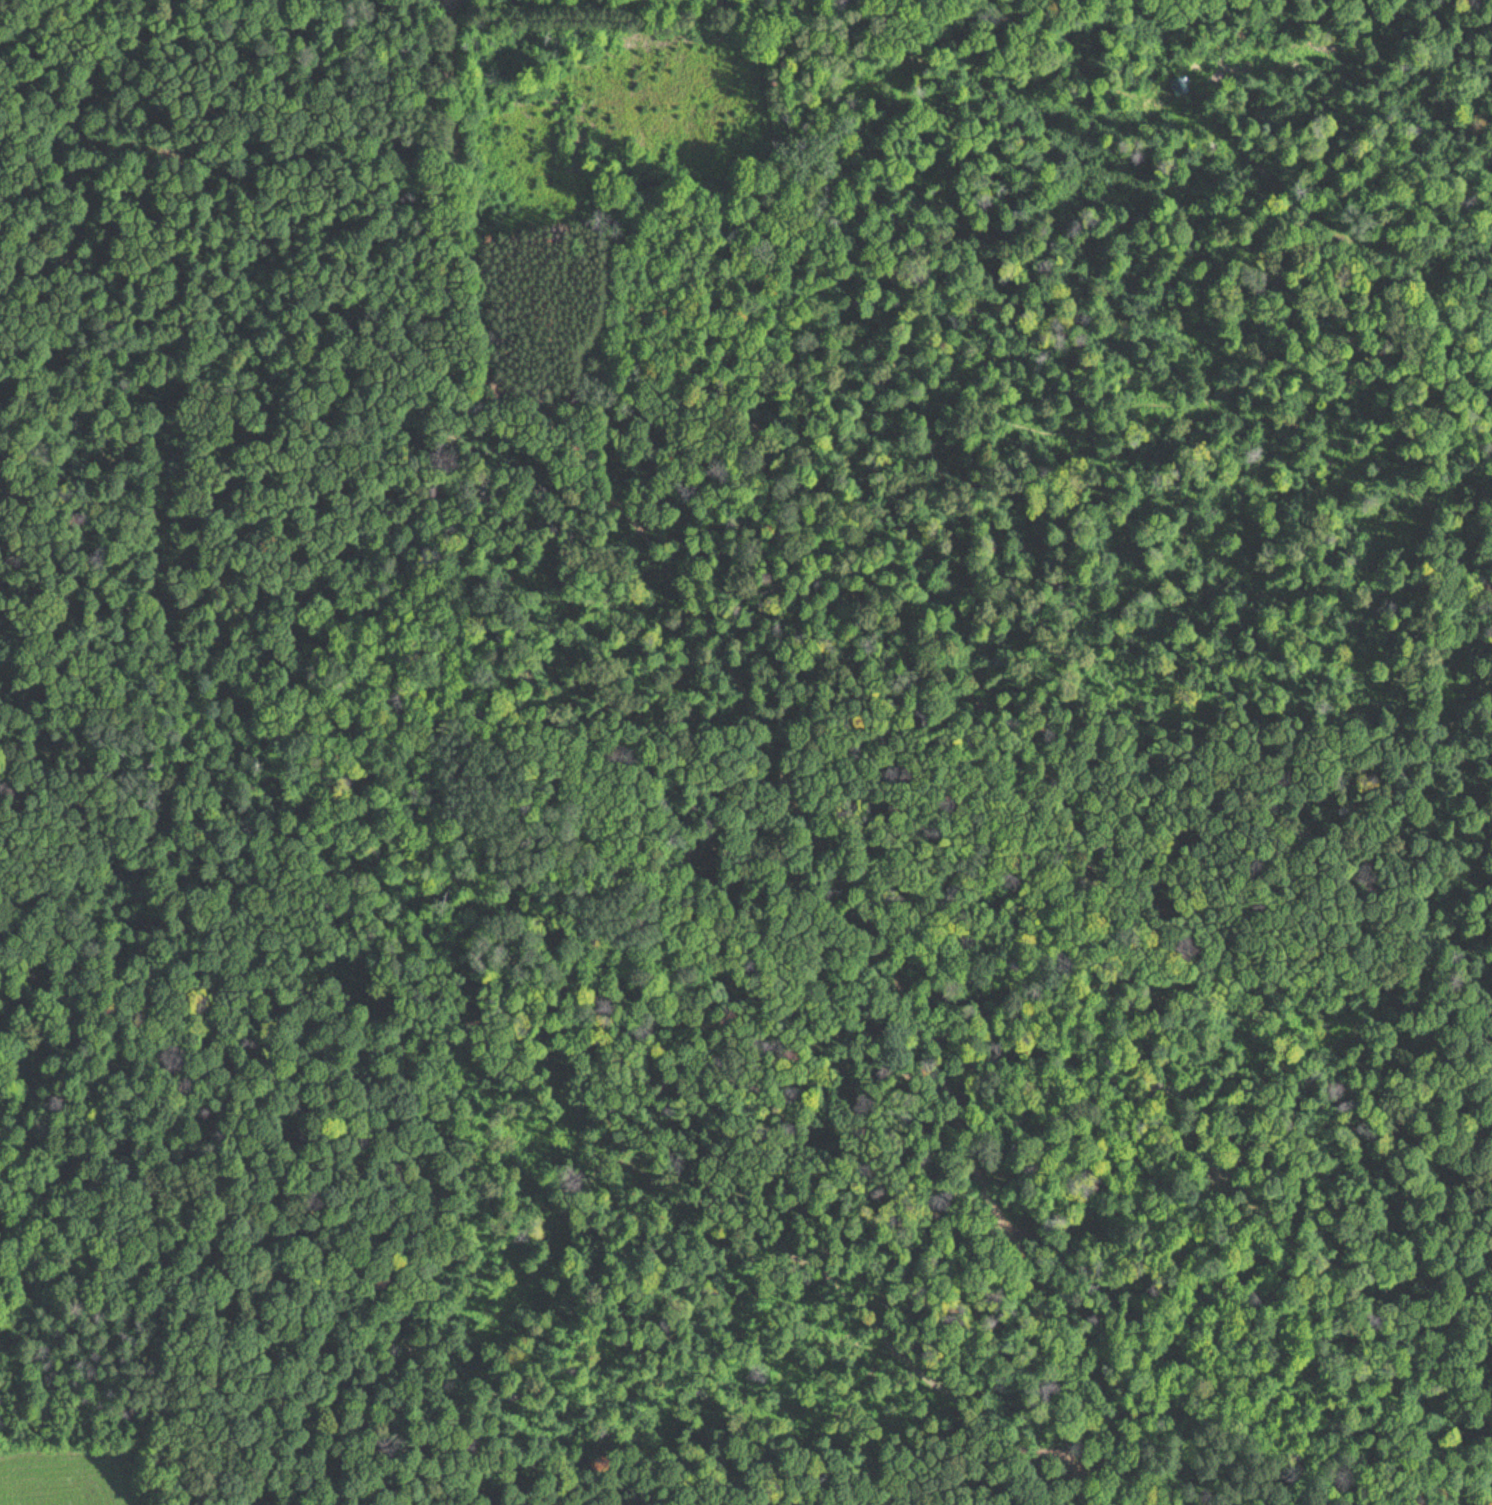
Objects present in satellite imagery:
road: (478, 4)
road: (685, 636)

